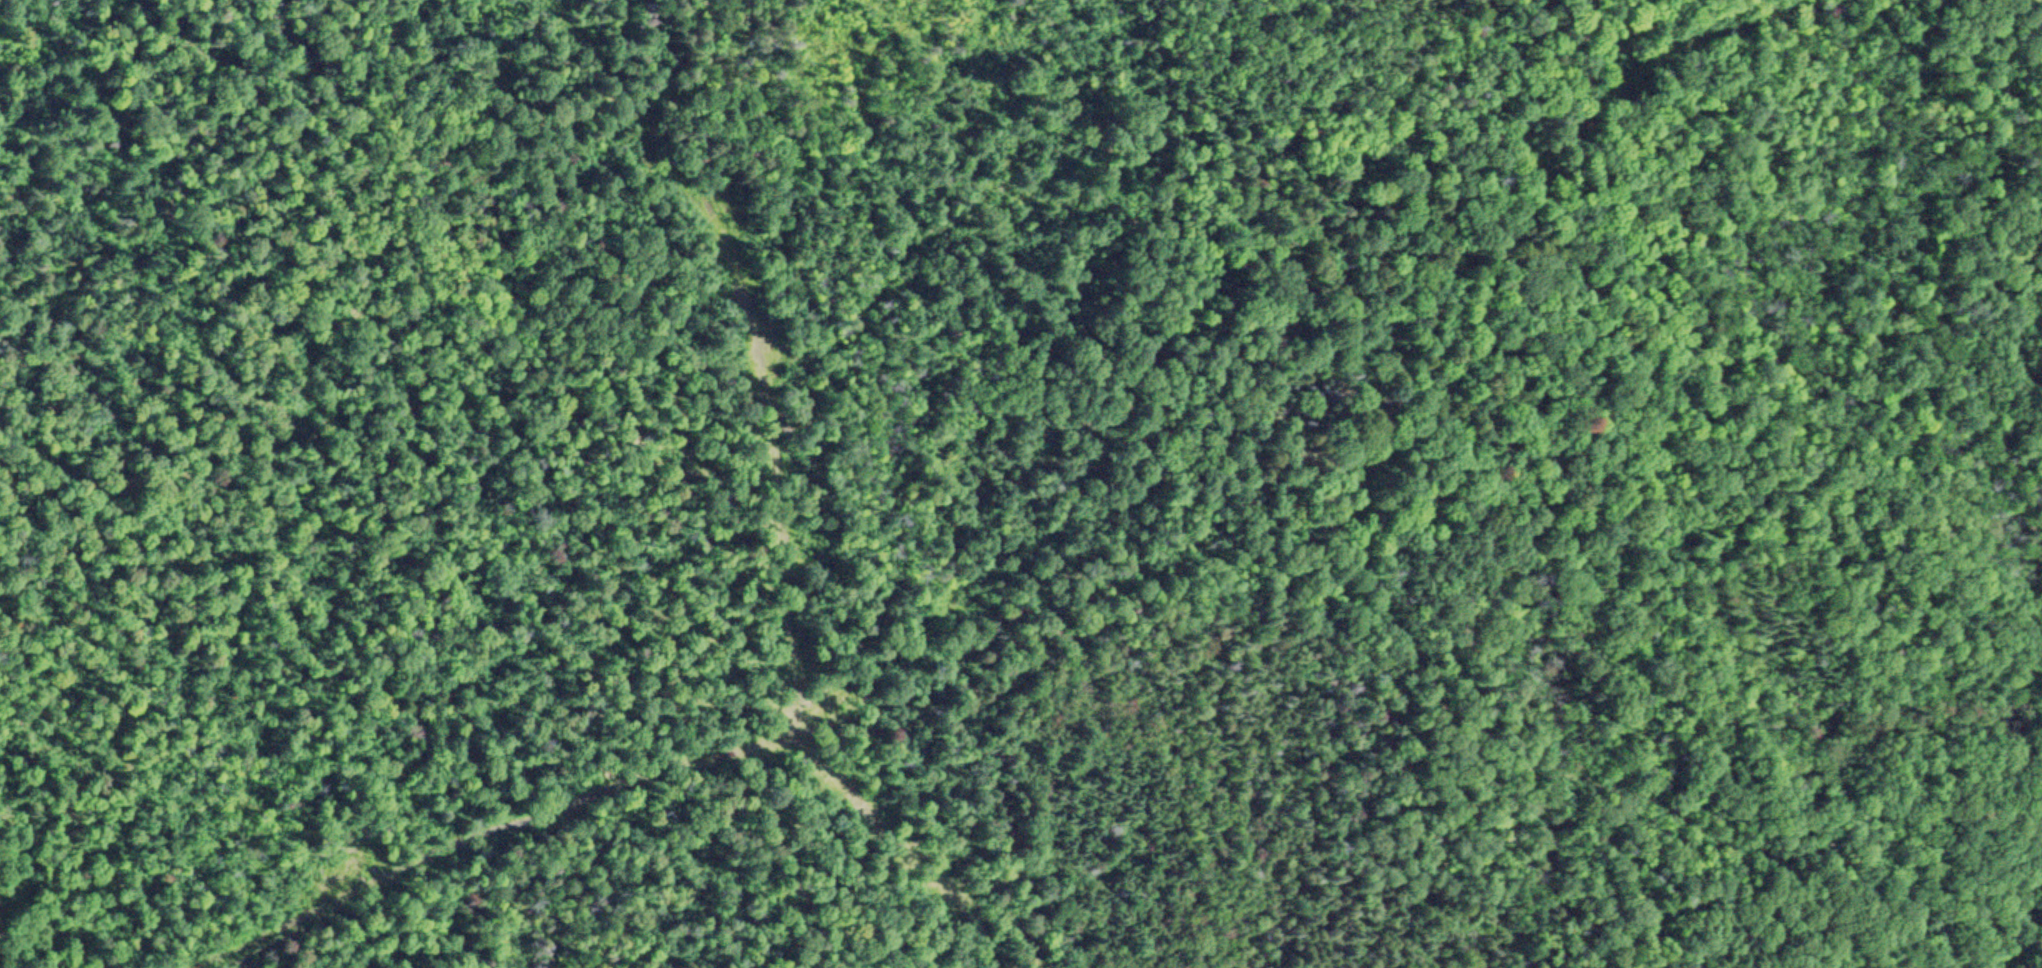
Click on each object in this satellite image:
road: (761, 354)
road: (547, 787)

